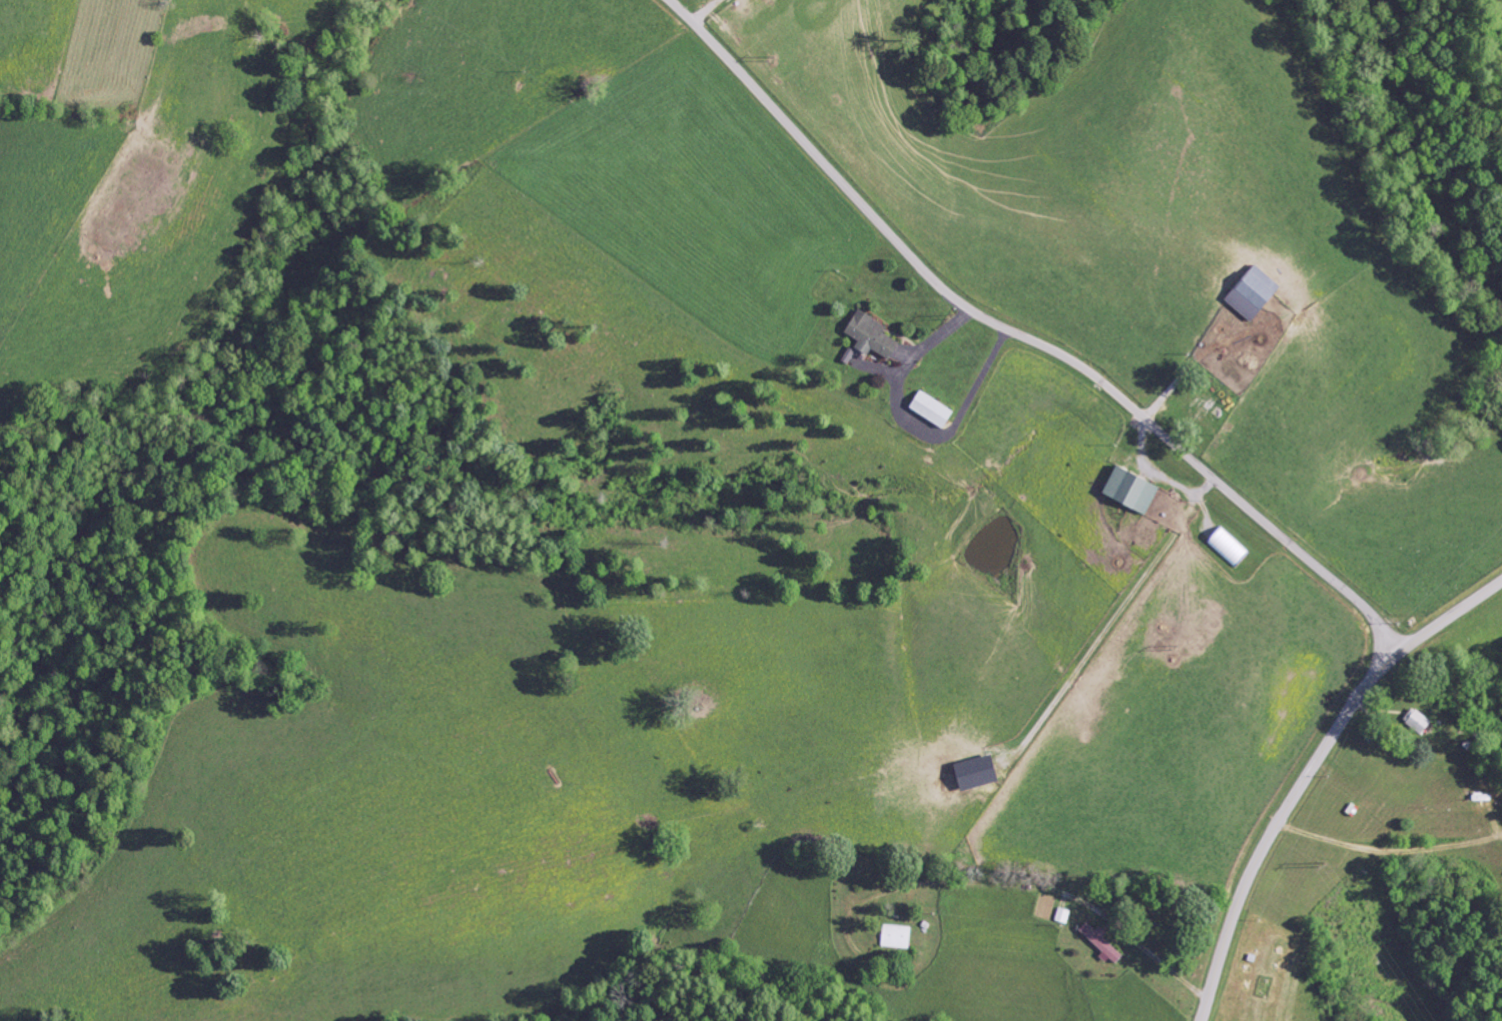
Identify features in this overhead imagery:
building: (1248, 292)
building: (875, 336)
road: (1024, 338)
building: (935, 410)
building: (1126, 491)
building: (1415, 722)
road: (1310, 771)
building: (983, 773)
road: (979, 875)
building: (1063, 916)
building: (898, 937)
building: (1097, 943)

